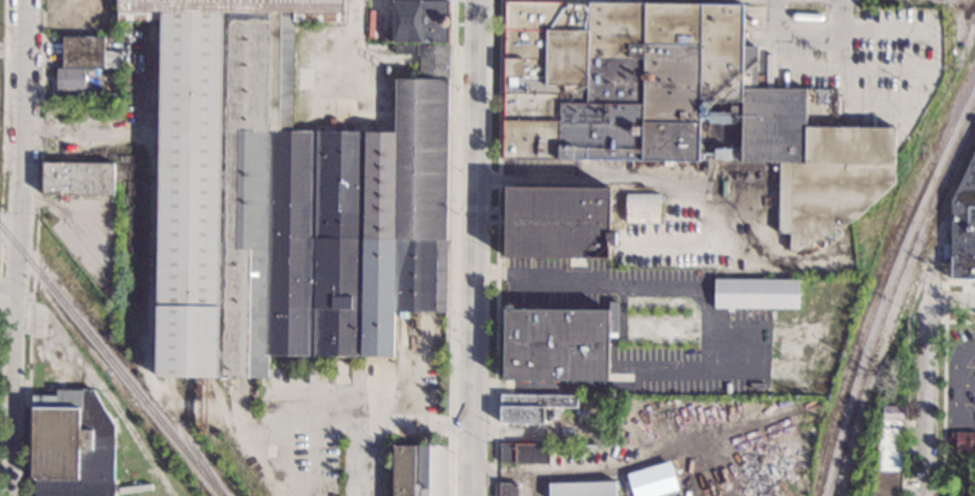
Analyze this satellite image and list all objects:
building: (419, 21)
building: (88, 53)
building: (70, 79)
building: (676, 103)
road: (4, 120)
road: (97, 131)
road: (33, 132)
road: (606, 179)
building: (78, 180)
building: (286, 197)
road: (31, 201)
building: (458, 203)
road: (474, 207)
building: (642, 207)
building: (558, 222)
building: (963, 225)
road: (75, 228)
road: (450, 247)
road: (475, 247)
road: (497, 247)
road: (18, 248)
road: (35, 248)
road: (10, 250)
road: (490, 269)
railway: (884, 280)
road: (960, 281)
road: (651, 285)
building: (756, 293)
railway: (890, 293)
road: (7, 296)
road: (945, 300)
road: (952, 303)
building: (558, 343)
railway: (110, 361)
road: (954, 366)
parking lot: (961, 379)
road: (944, 393)
road: (925, 400)
building: (530, 406)
road: (953, 414)
road: (378, 422)
building: (963, 441)
railway: (188, 442)
road: (905, 442)
building: (71, 445)
building: (579, 447)
building: (524, 452)
building: (887, 453)
road: (369, 459)
building: (962, 462)
building: (417, 470)
railway: (784, 479)
building: (651, 480)
building: (583, 488)
building: (509, 489)
building: (737, 490)

